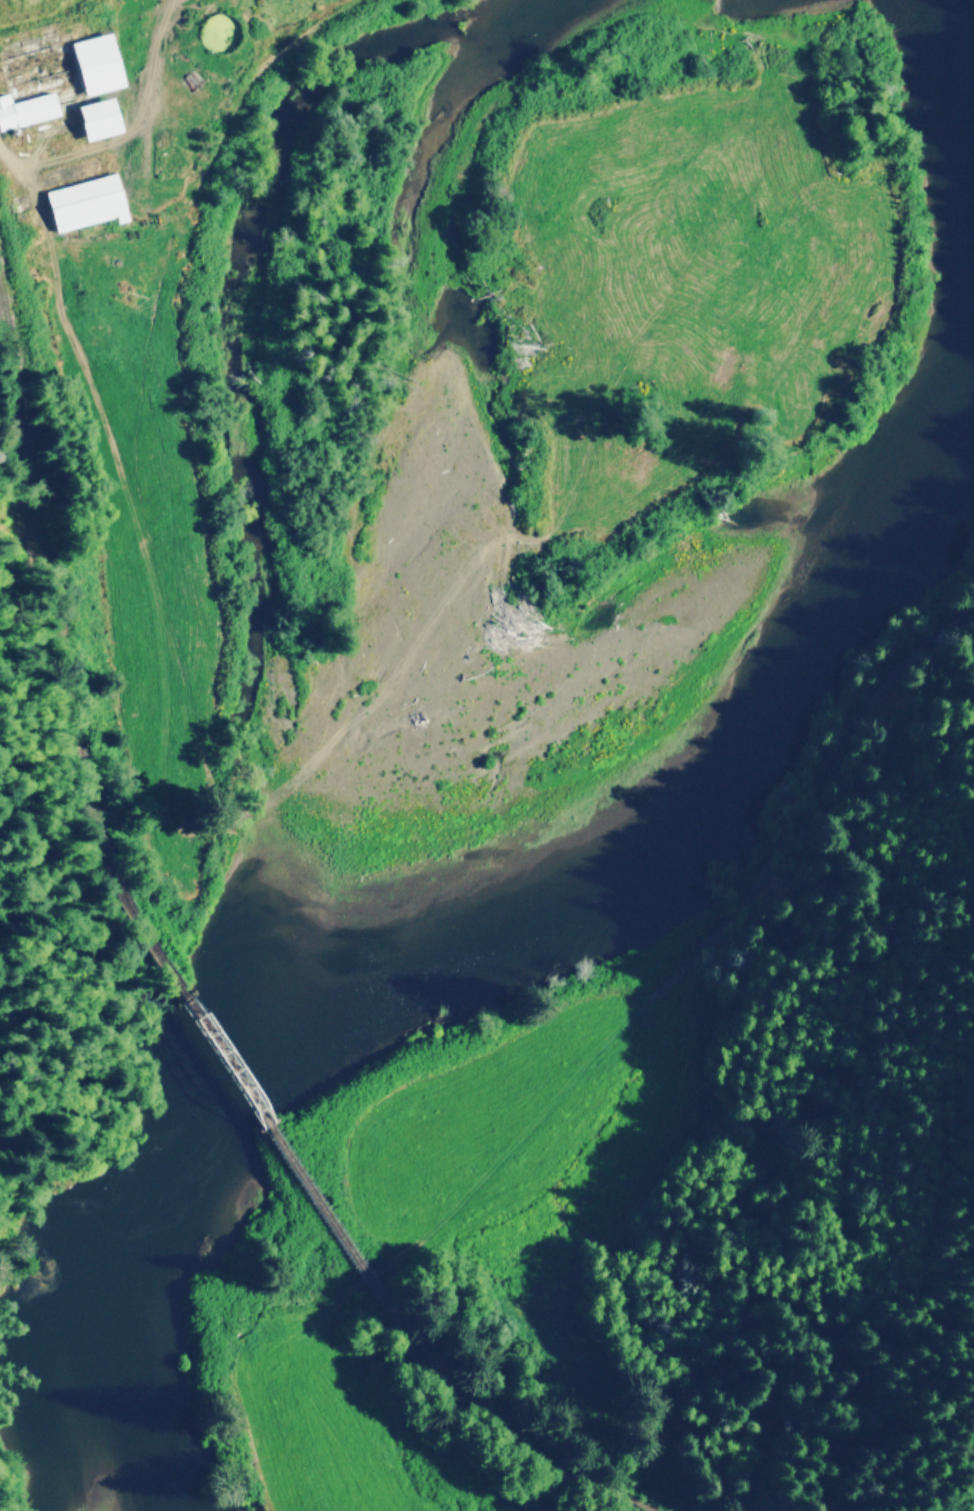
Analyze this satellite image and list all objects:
river: (972, 62)
building: (92, 63)
building: (25, 108)
building: (93, 117)
building: (81, 202)
river: (239, 272)
railway: (64, 655)
river: (238, 857)
river: (515, 926)
railway: (232, 1063)
crop: (494, 1114)
railway: (449, 1359)
crop: (342, 1430)

